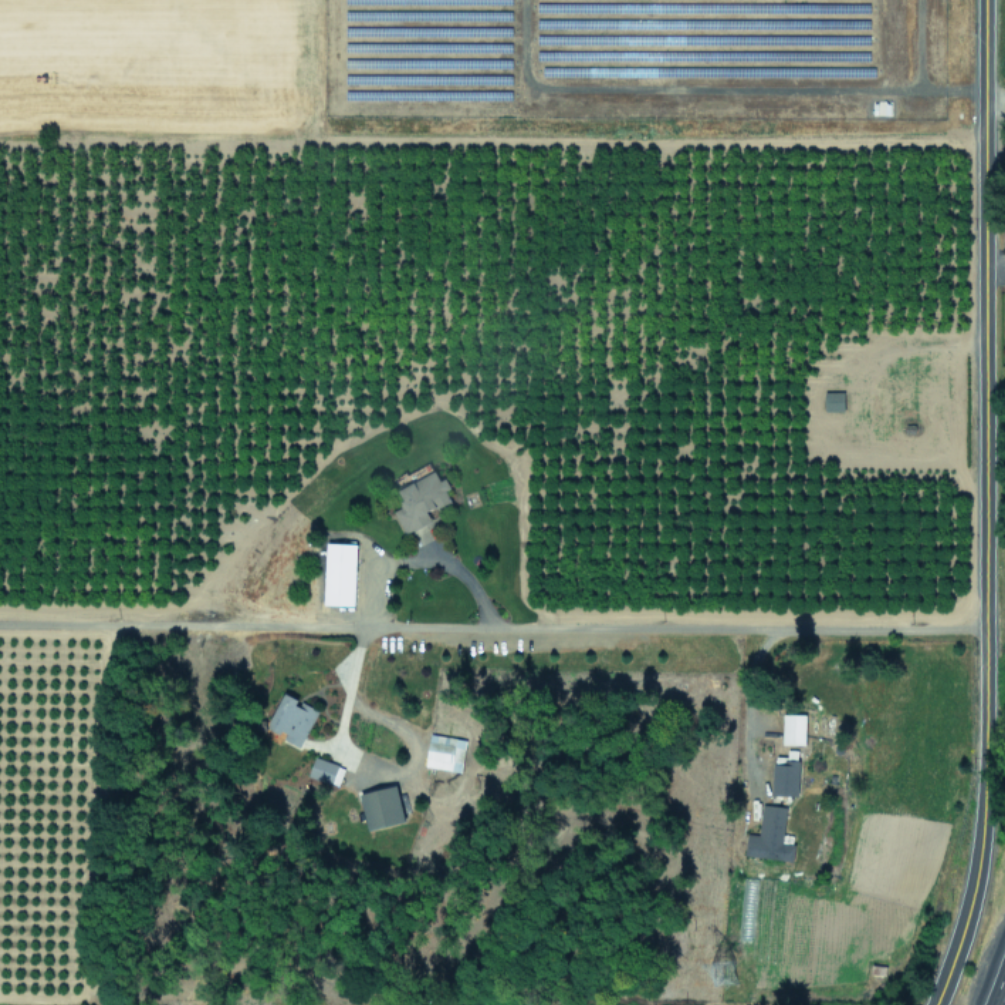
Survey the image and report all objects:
road: (777, 92)
road: (995, 97)
road: (995, 155)
crop: (502, 297)
building: (833, 401)
building: (420, 500)
road: (985, 506)
road: (425, 558)
building: (340, 573)
road: (492, 626)
building: (292, 719)
building: (793, 728)
building: (444, 752)
building: (325, 771)
building: (785, 773)
building: (381, 807)
building: (770, 835)
power tower: (714, 971)
road: (1000, 992)

